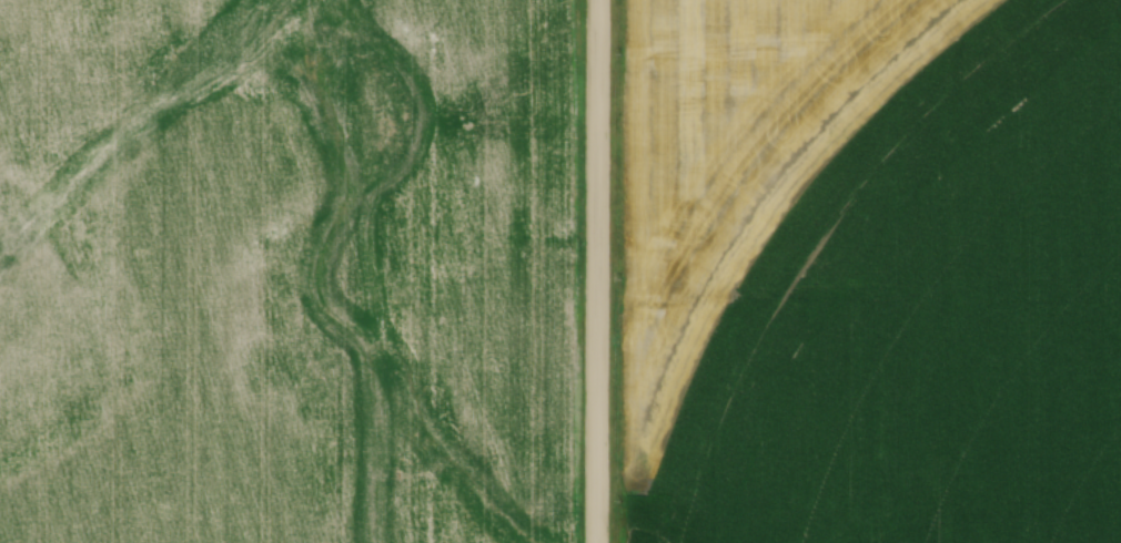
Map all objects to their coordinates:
road: (599, 271)

